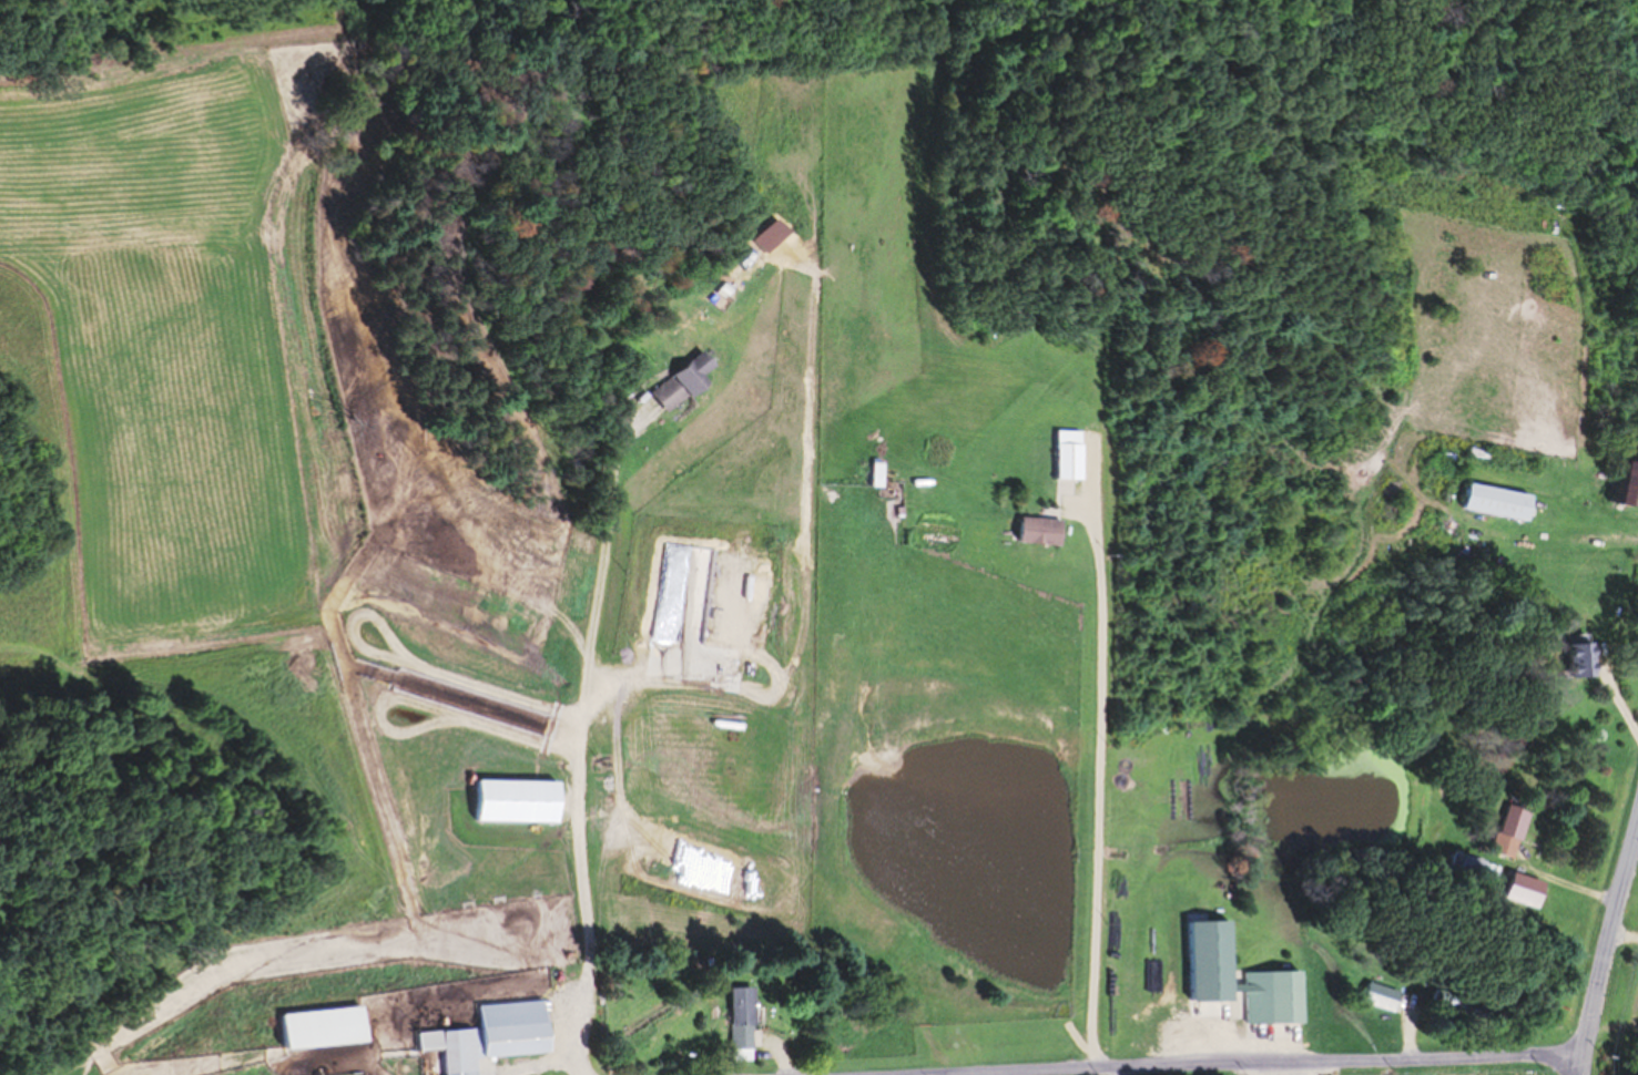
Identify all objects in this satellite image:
building: (703, 377)
building: (674, 397)
building: (1077, 463)
building: (885, 477)
building: (1632, 485)
building: (1507, 504)
building: (1046, 533)
road: (1095, 649)
building: (1586, 657)
road: (1617, 688)
road: (580, 751)
building: (523, 803)
building: (1519, 833)
building: (1481, 871)
building: (1534, 893)
road: (1603, 942)
building: (1387, 999)
building: (1280, 1000)
building: (1462, 1005)
building: (750, 1026)
building: (330, 1031)
building: (498, 1038)
road: (1441, 1062)

